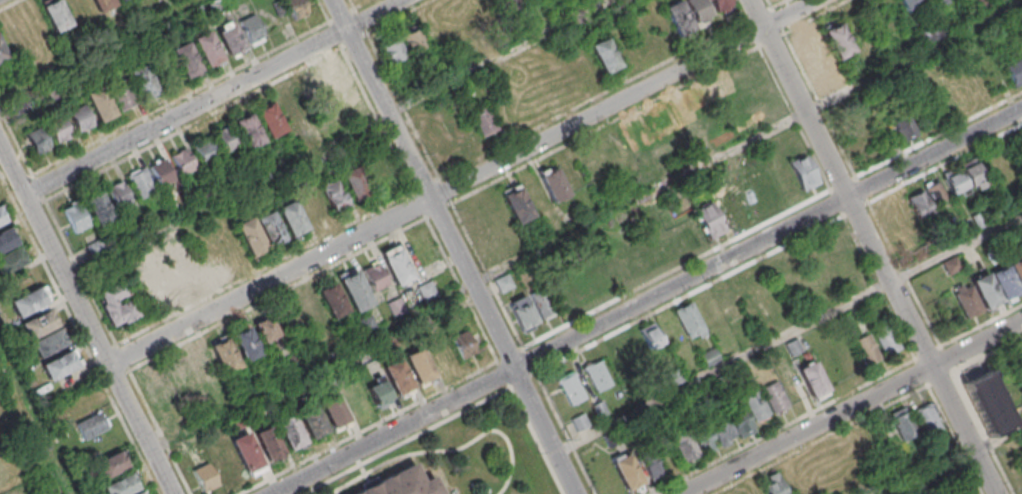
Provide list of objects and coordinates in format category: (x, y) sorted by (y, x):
building: (121, 0)
building: (939, 2)
building: (507, 3)
building: (102, 4)
building: (720, 5)
building: (910, 6)
building: (295, 8)
building: (699, 10)
road: (377, 14)
building: (56, 15)
building: (679, 18)
building: (252, 29)
building: (449, 29)
building: (931, 33)
building: (230, 39)
building: (413, 41)
building: (838, 41)
road: (98, 51)
building: (393, 51)
building: (2, 53)
building: (208, 54)
building: (605, 55)
building: (186, 65)
building: (1014, 72)
building: (338, 85)
building: (144, 86)
building: (971, 94)
building: (124, 96)
building: (101, 107)
building: (292, 107)
road: (189, 111)
building: (80, 118)
building: (269, 119)
building: (484, 120)
building: (902, 127)
building: (60, 130)
building: (248, 130)
building: (225, 139)
road: (341, 139)
building: (38, 140)
building: (204, 148)
building: (182, 161)
building: (161, 172)
building: (803, 172)
building: (964, 180)
building: (141, 182)
building: (355, 183)
building: (553, 184)
road: (465, 185)
building: (118, 193)
building: (334, 194)
building: (927, 202)
building: (517, 204)
building: (97, 205)
building: (313, 206)
building: (75, 217)
building: (1, 218)
building: (292, 219)
building: (709, 219)
building: (977, 221)
road: (586, 226)
building: (260, 232)
building: (7, 238)
road: (456, 246)
road: (875, 246)
road: (957, 249)
building: (11, 260)
building: (396, 265)
building: (185, 274)
building: (374, 276)
building: (1008, 277)
building: (503, 283)
building: (165, 288)
building: (742, 288)
building: (354, 289)
building: (427, 291)
building: (977, 296)
building: (29, 301)
building: (332, 301)
road: (646, 301)
building: (116, 303)
building: (542, 303)
building: (312, 314)
building: (523, 314)
road: (85, 316)
building: (689, 321)
building: (38, 324)
building: (266, 329)
building: (650, 335)
building: (887, 340)
building: (48, 343)
building: (246, 344)
building: (463, 344)
building: (867, 350)
building: (224, 354)
building: (709, 357)
building: (202, 363)
building: (60, 364)
building: (420, 366)
road: (724, 368)
building: (599, 375)
building: (182, 376)
building: (397, 377)
building: (674, 377)
building: (812, 380)
building: (570, 388)
building: (159, 391)
building: (378, 392)
building: (765, 402)
building: (78, 405)
building: (987, 405)
road: (853, 408)
building: (333, 411)
building: (927, 420)
building: (312, 422)
building: (579, 422)
road: (34, 423)
building: (91, 425)
building: (902, 425)
building: (730, 426)
building: (290, 433)
building: (703, 439)
building: (268, 443)
building: (682, 446)
building: (246, 453)
road: (958, 461)
building: (650, 463)
building: (111, 464)
building: (627, 472)
building: (205, 477)
building: (400, 484)
building: (772, 484)
building: (121, 485)
building: (138, 493)

